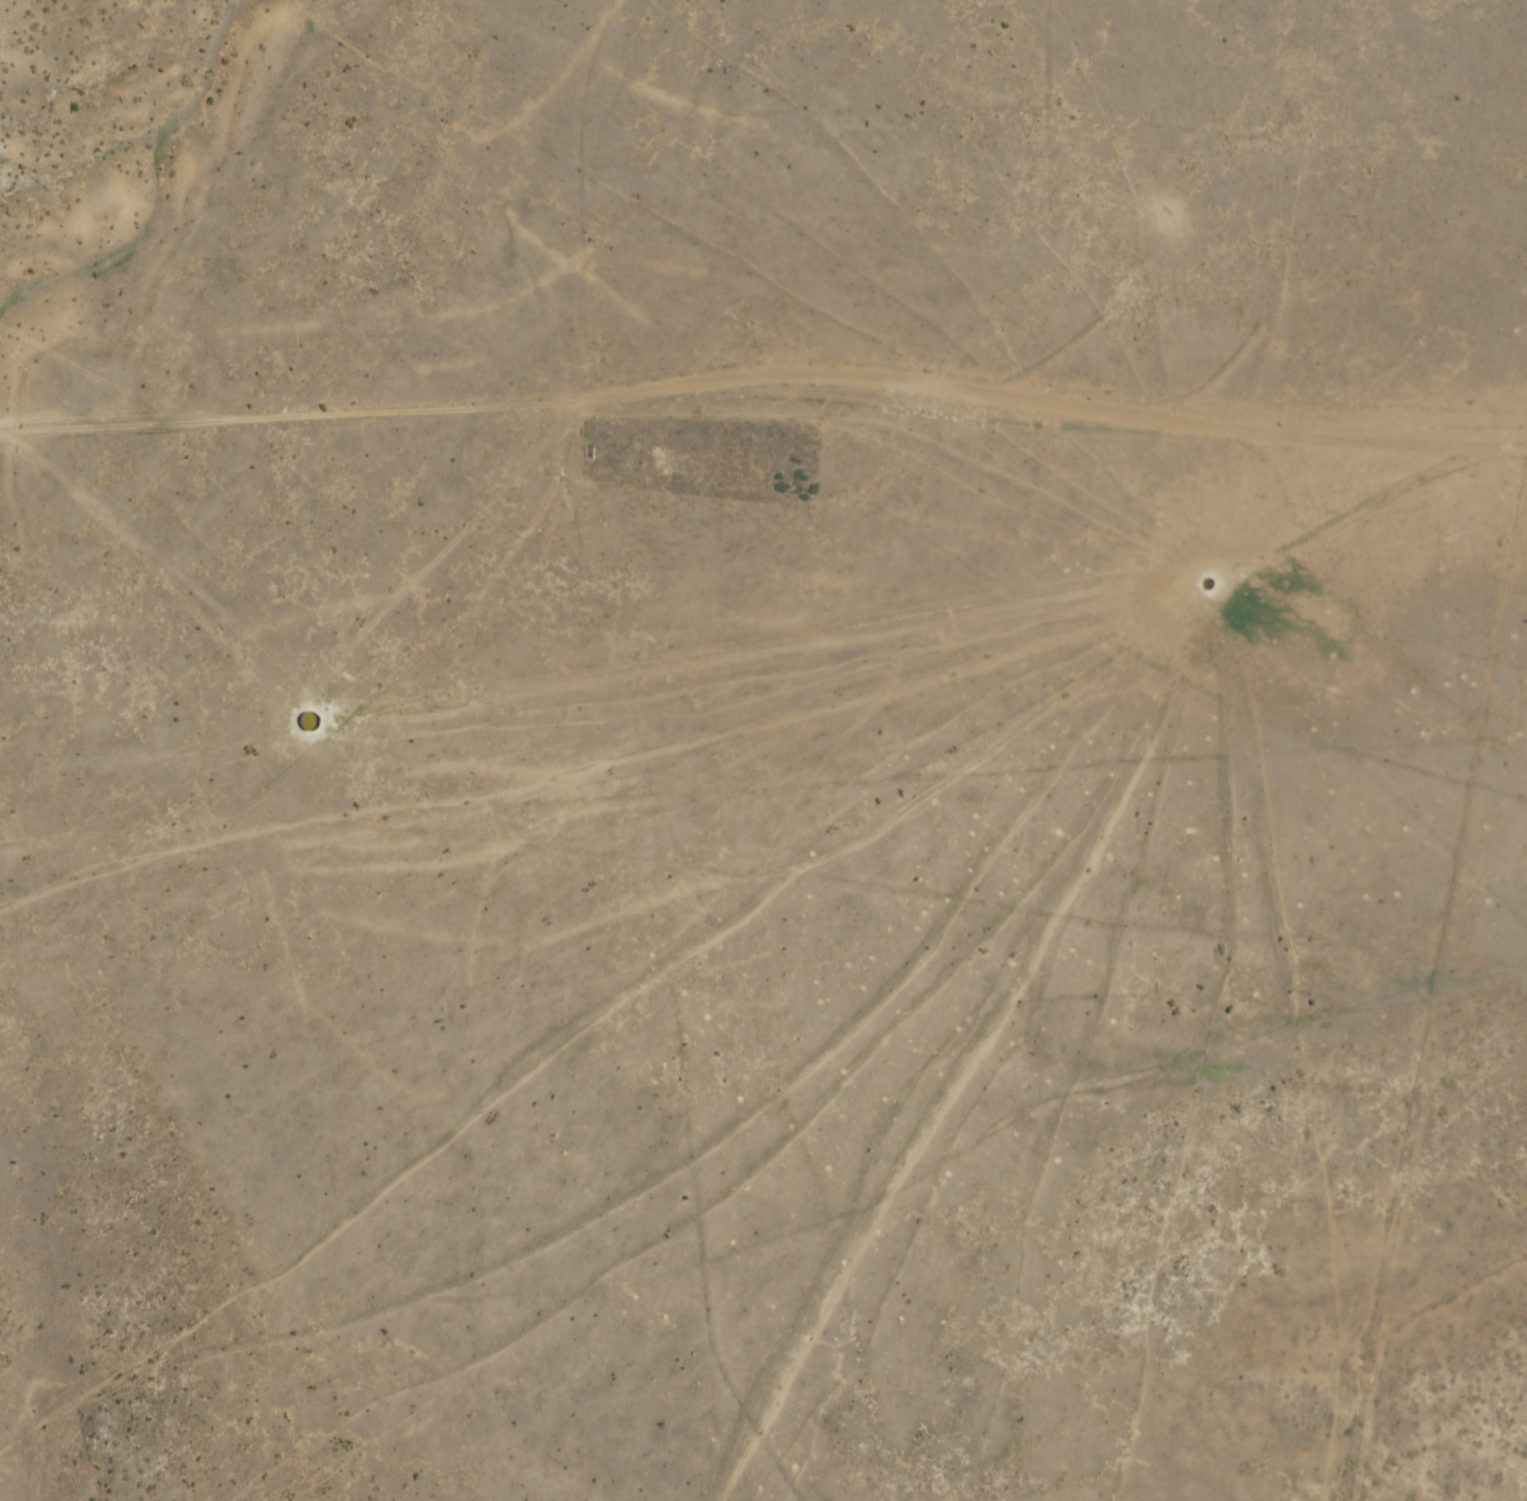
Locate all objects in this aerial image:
road: (763, 376)
park: (705, 457)
road: (409, 788)

